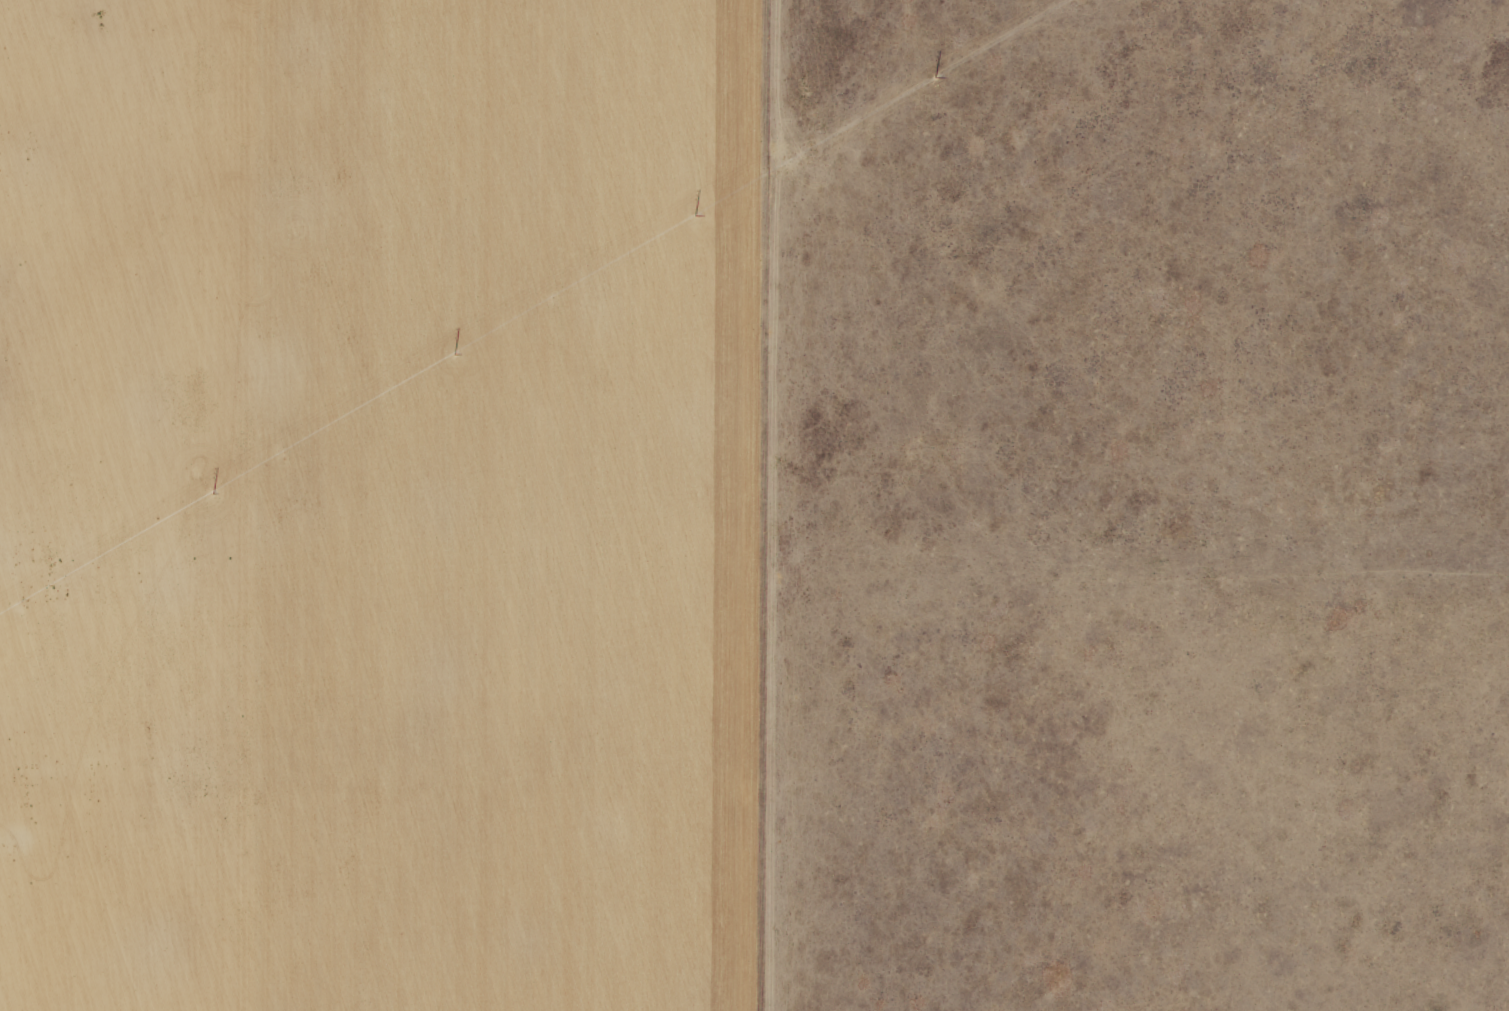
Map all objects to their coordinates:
power tower: (813, 146)
power tower: (550, 296)
power tower: (281, 455)
power tower: (15, 605)

